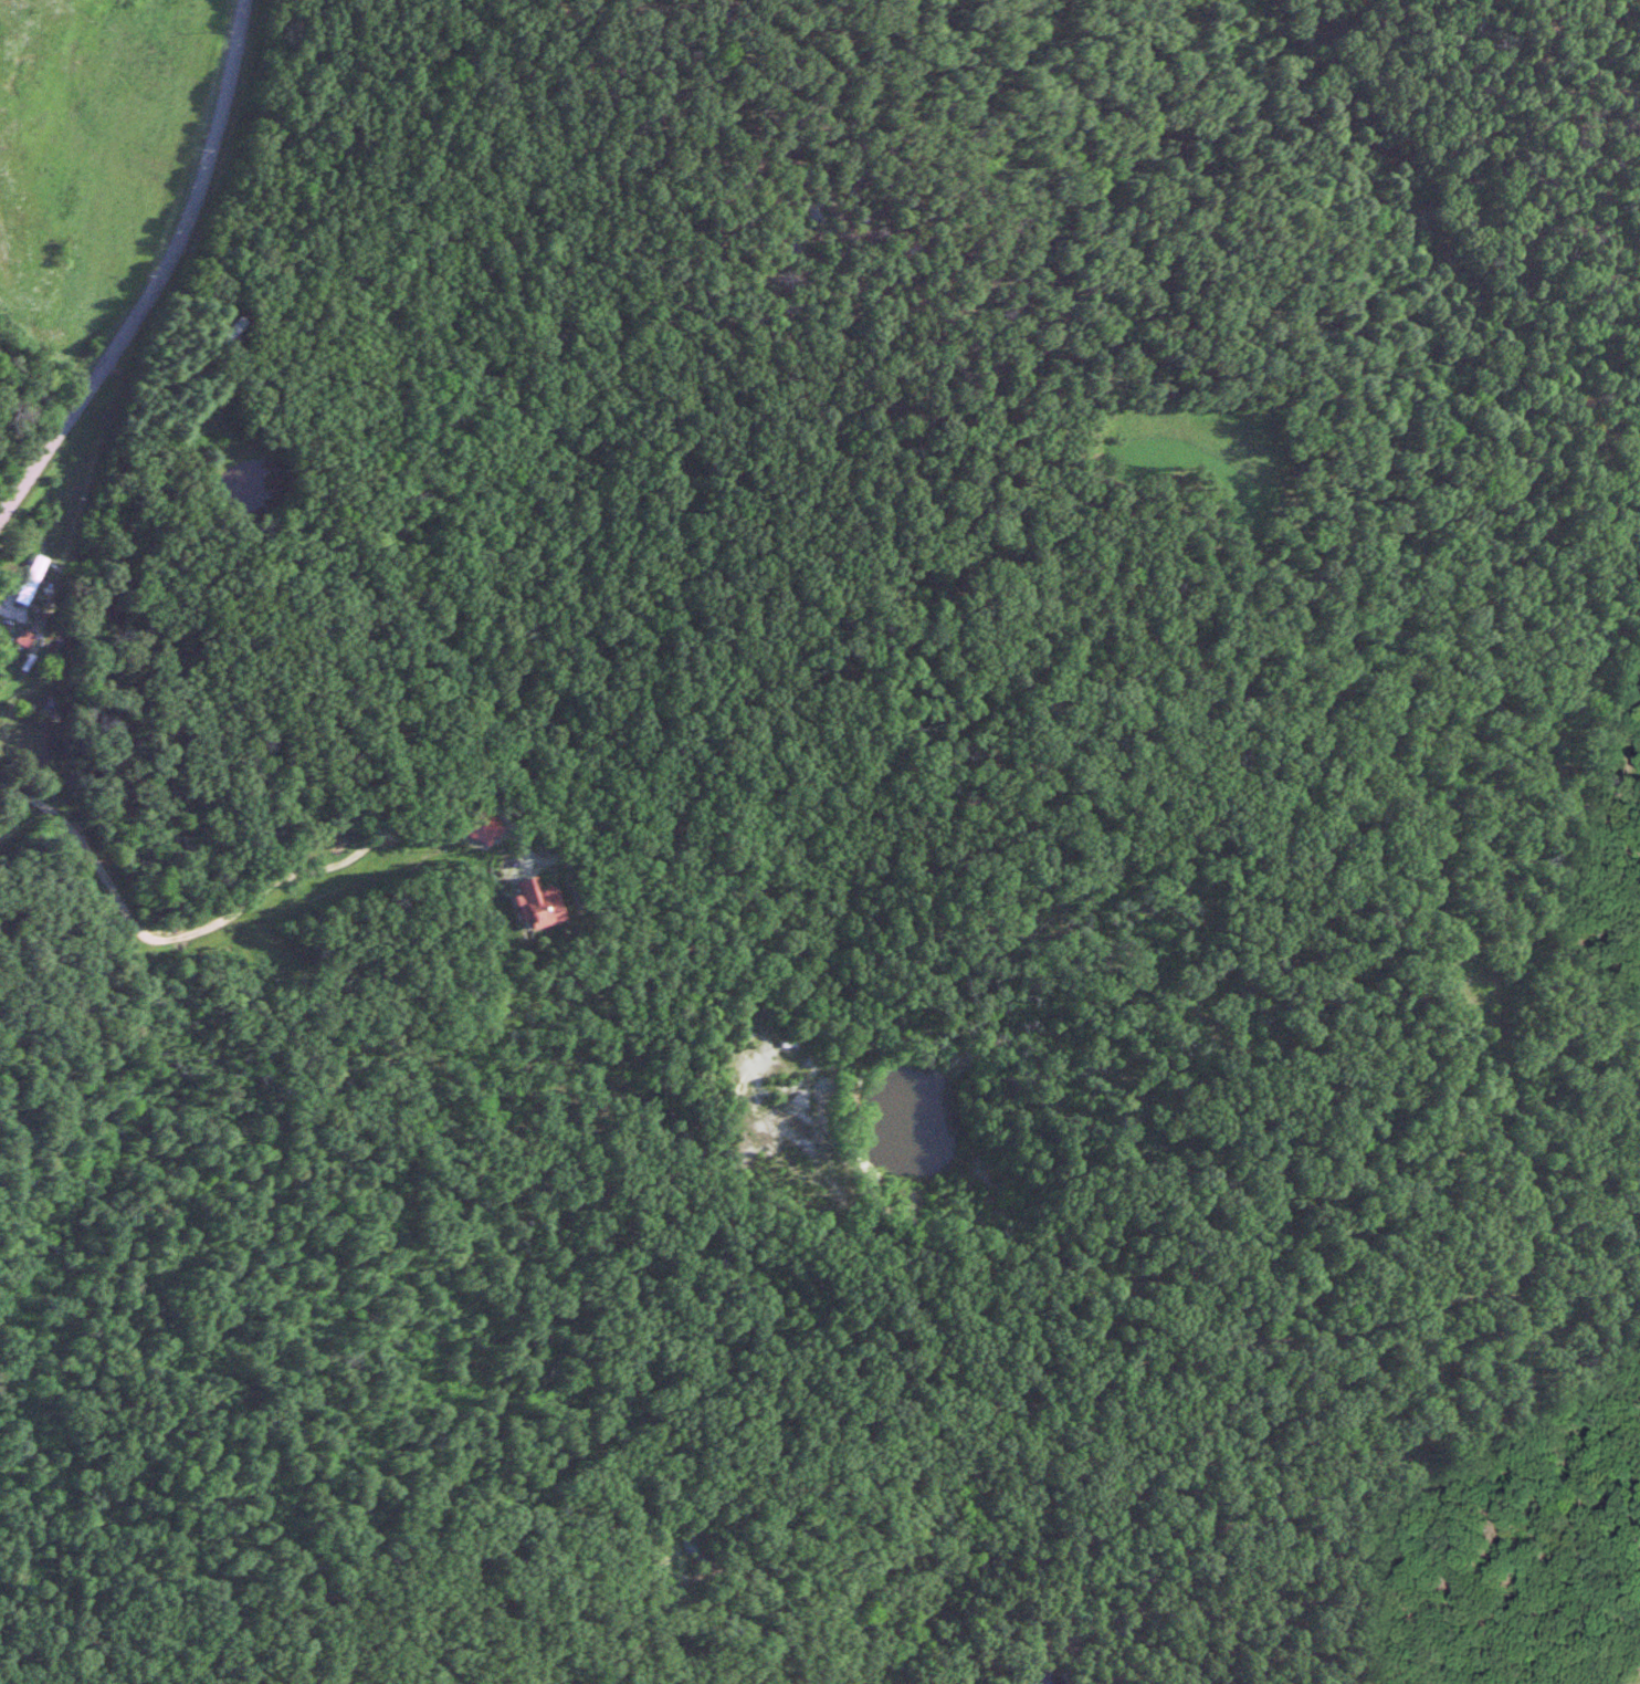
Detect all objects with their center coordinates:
road: (162, 279)
building: (18, 585)
building: (18, 638)
building: (61, 648)
building: (527, 903)
road: (238, 912)
road: (1184, 1362)

